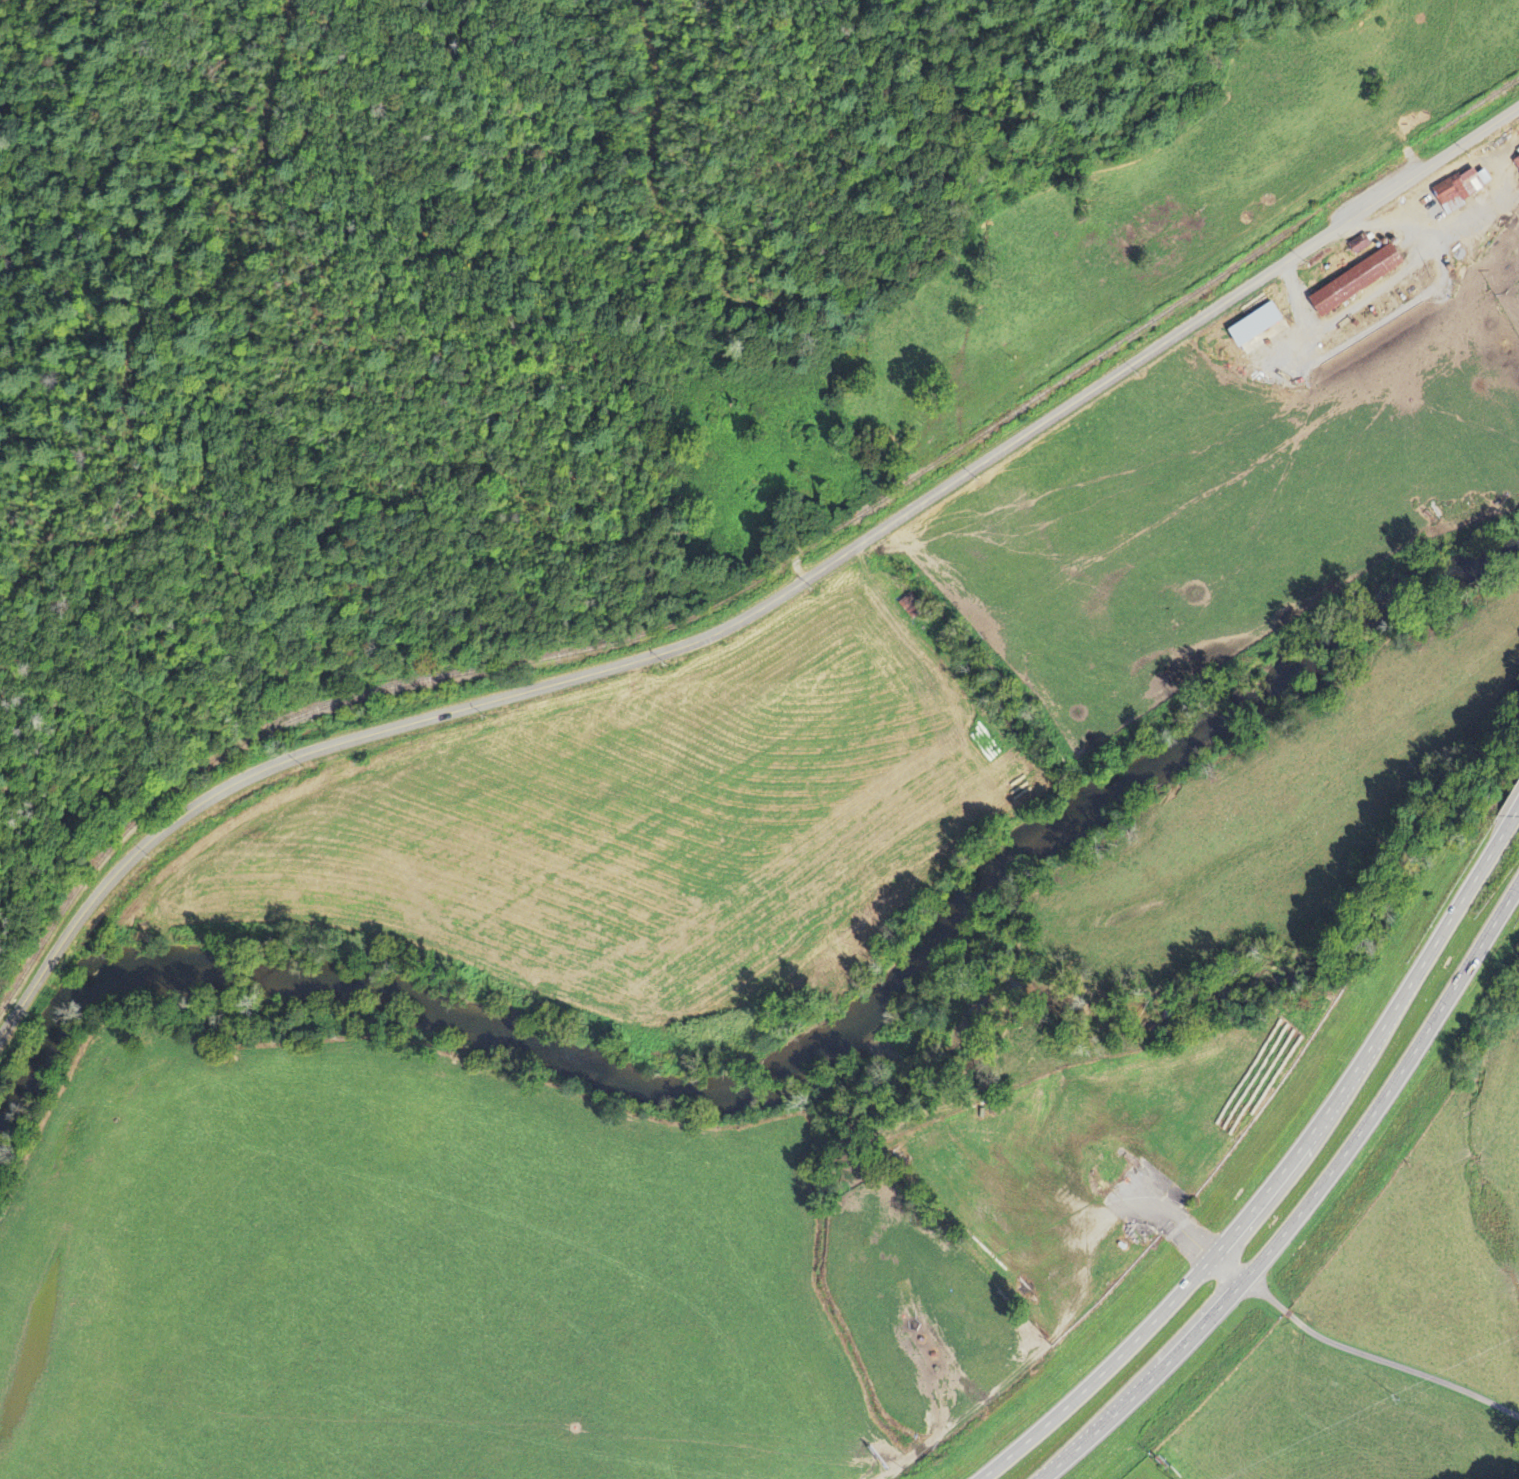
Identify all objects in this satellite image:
building: (1515, 162)
building: (1457, 190)
road: (228, 242)
building: (1357, 245)
building: (1351, 281)
railway: (1196, 291)
road: (939, 293)
railway: (861, 515)
road: (760, 609)
railway: (375, 690)
road: (1513, 821)
river: (762, 1079)
road: (1270, 1180)
road: (1305, 1204)
road: (1232, 1266)
power tower: (1402, 1397)

